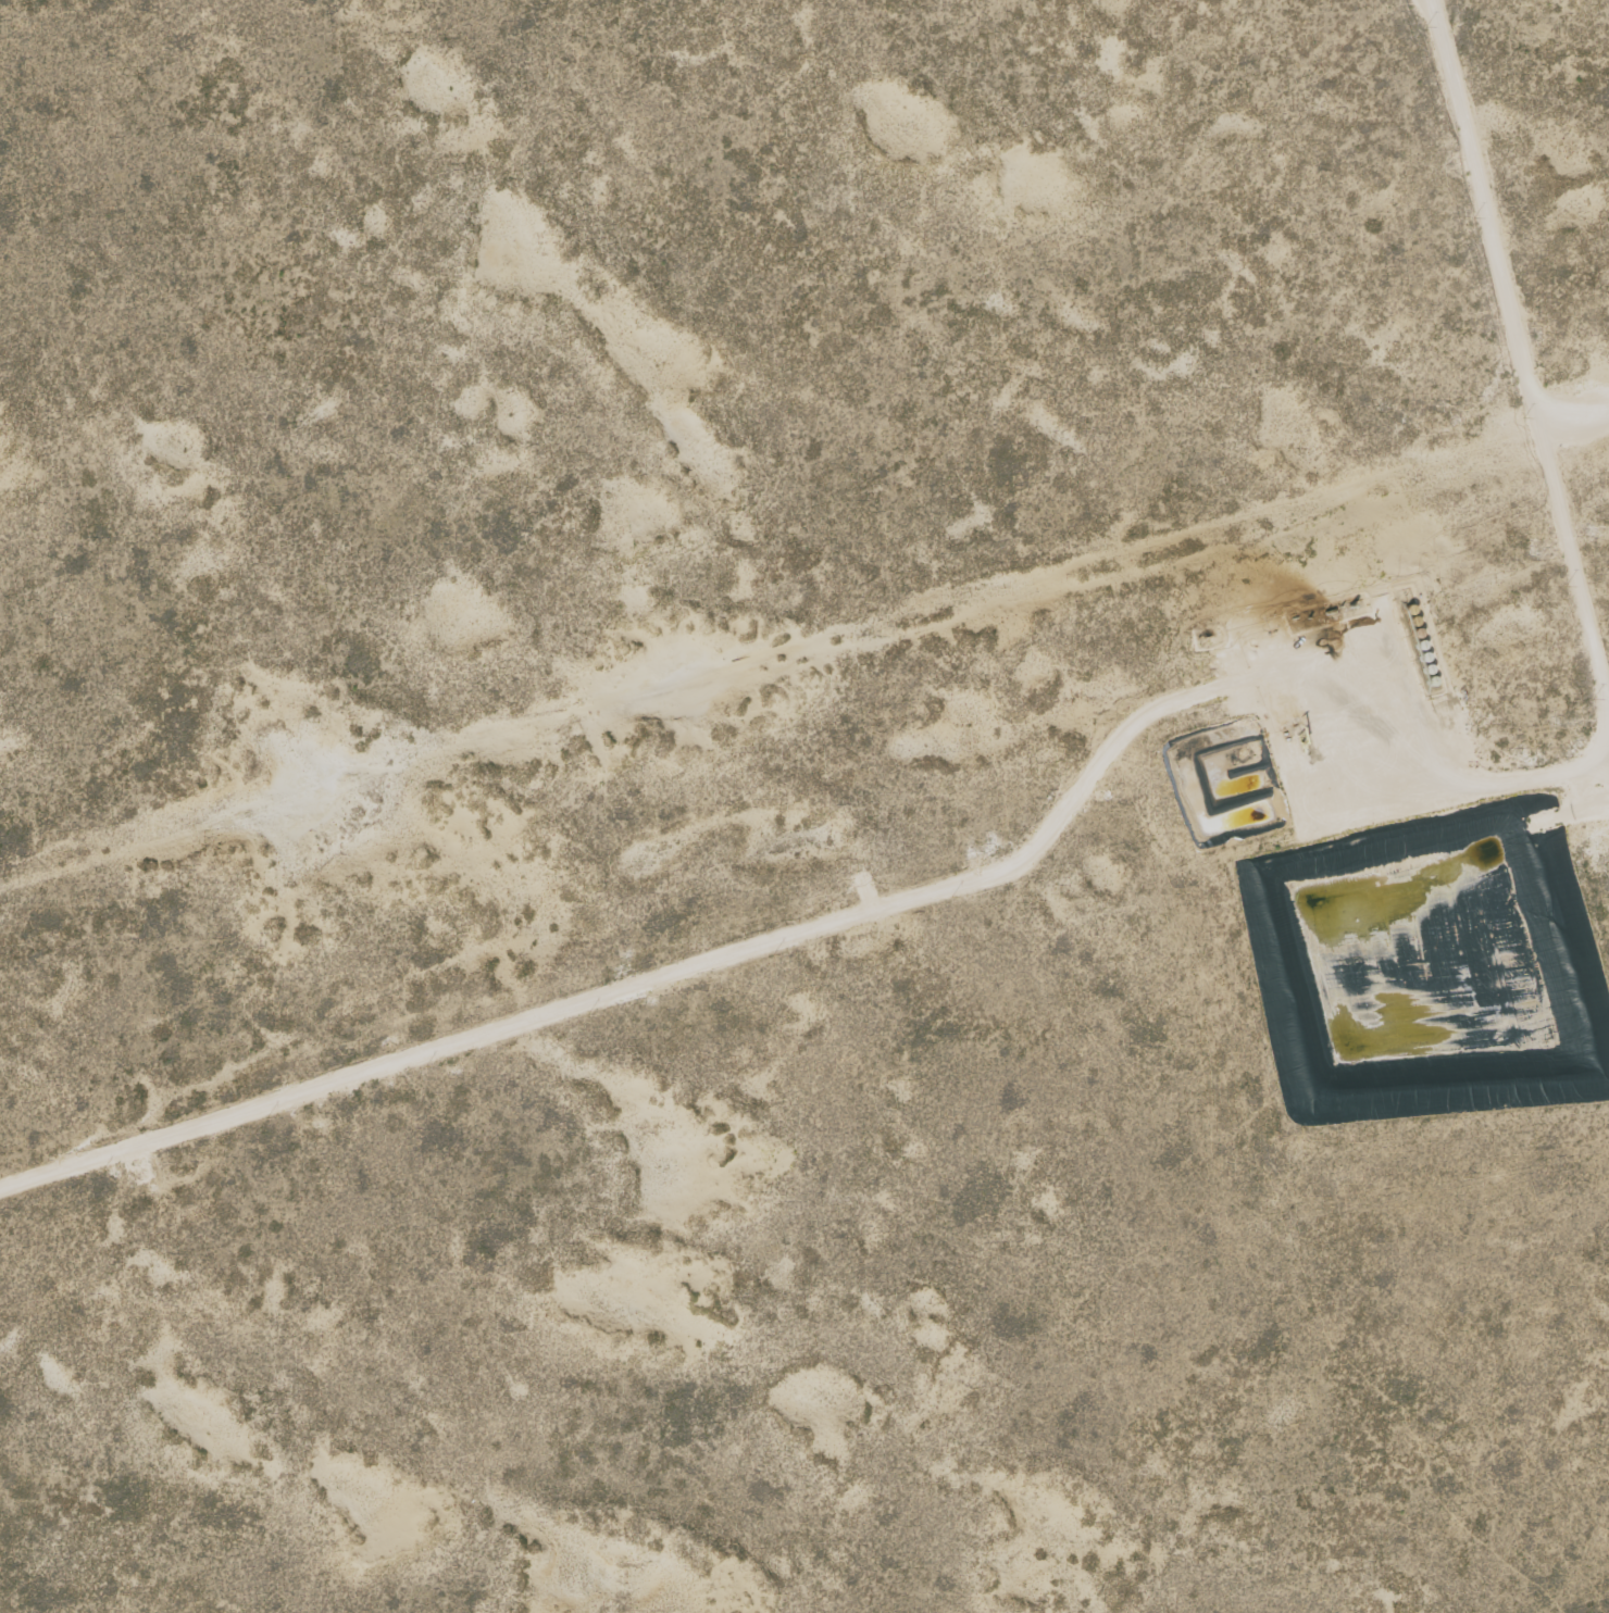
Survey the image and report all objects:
road: (1532, 314)

